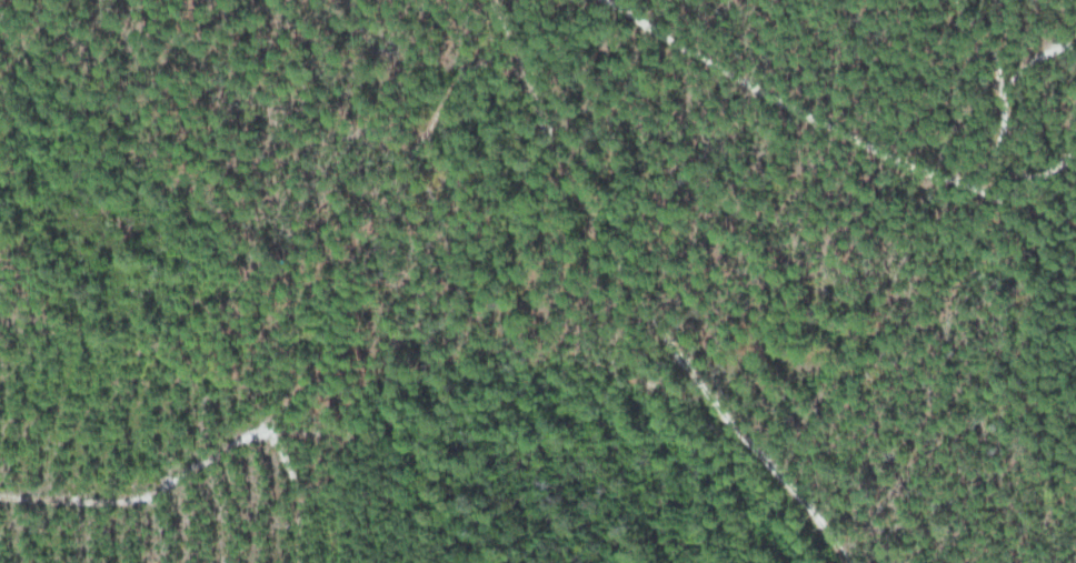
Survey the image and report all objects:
road: (826, 129)
road: (642, 300)

